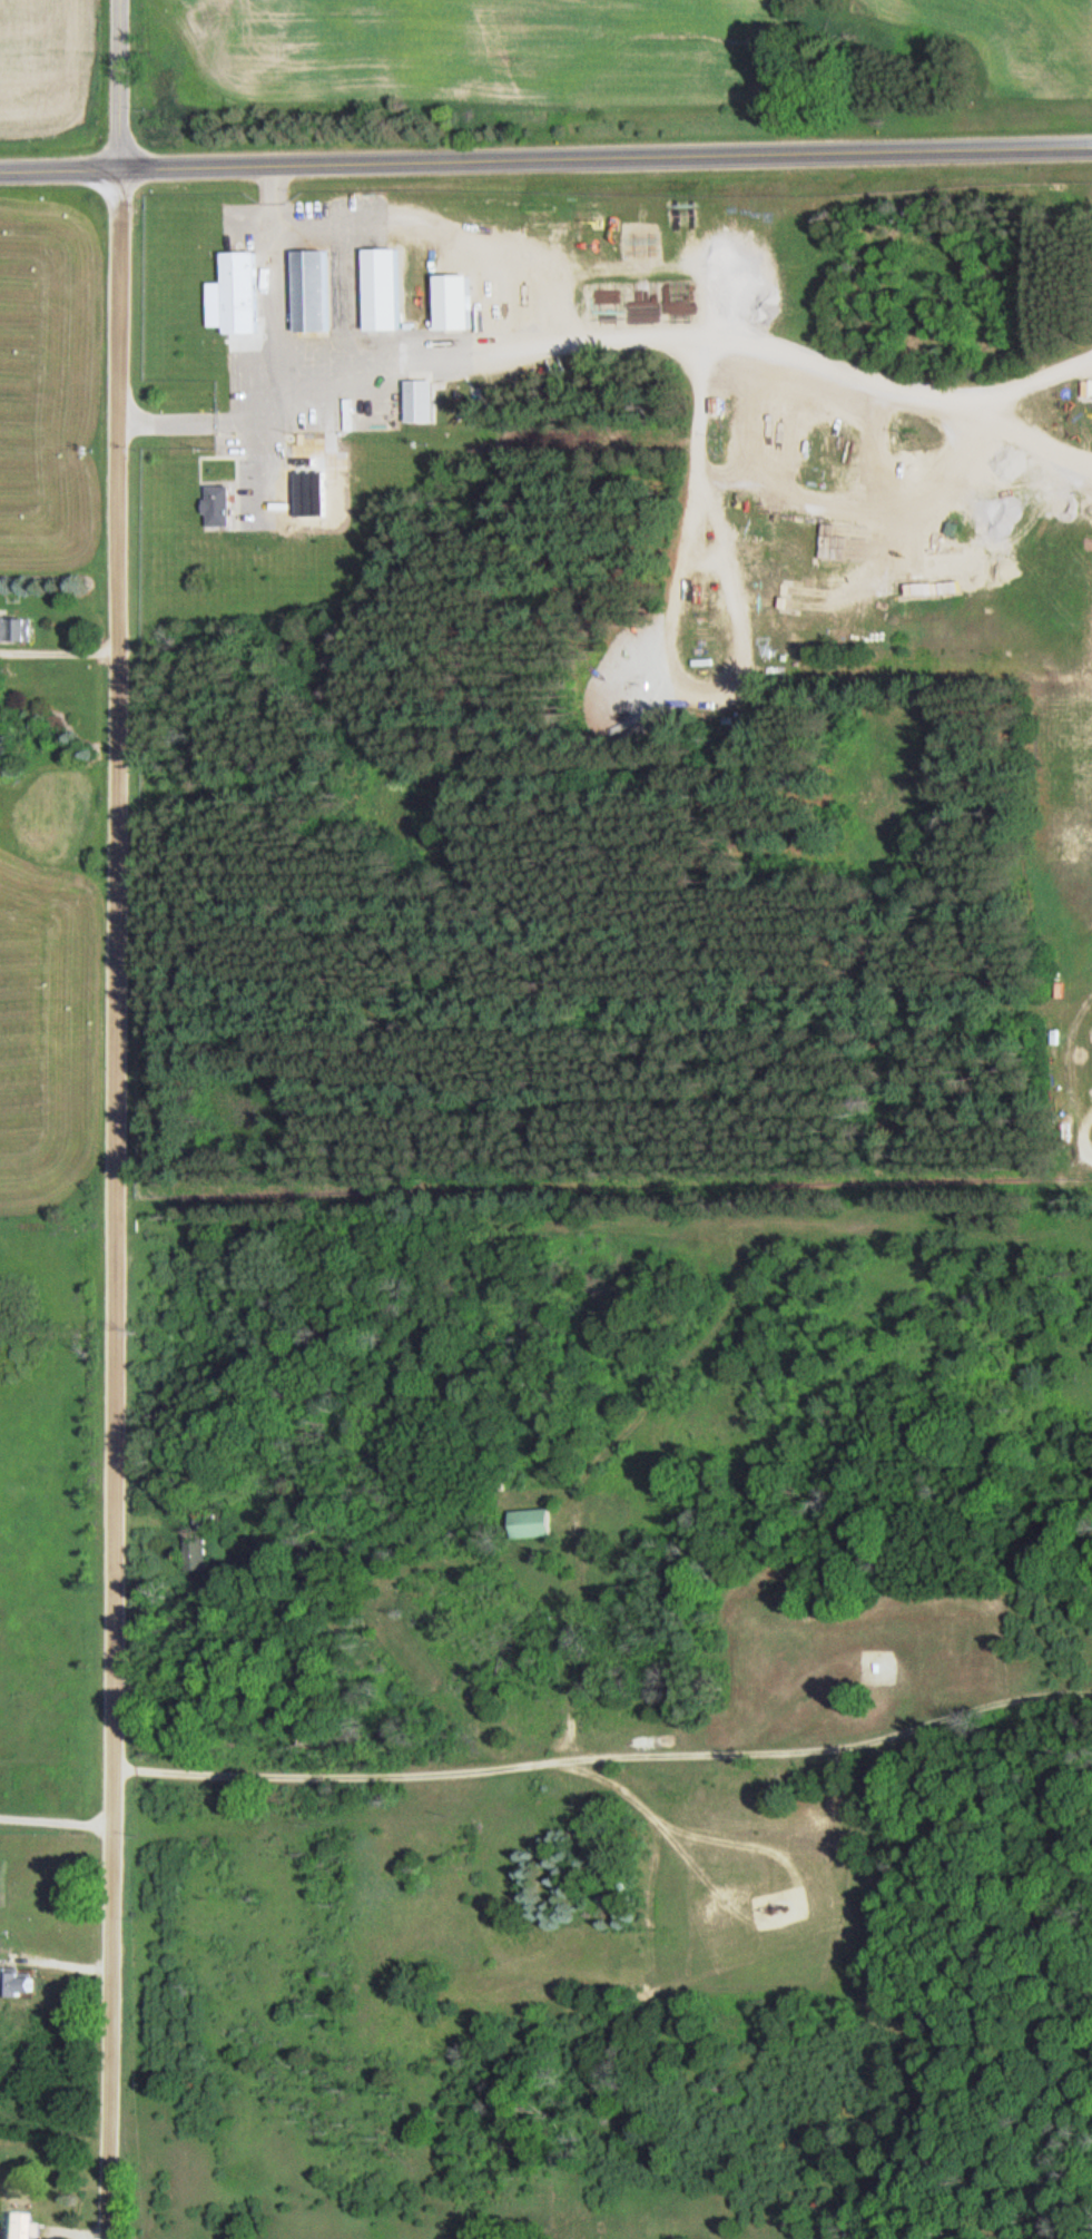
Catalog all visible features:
road: (119, 84)
road: (604, 155)
road: (59, 169)
building: (385, 288)
building: (316, 289)
building: (245, 292)
building: (460, 302)
road: (504, 350)
road: (1021, 374)
building: (423, 401)
road: (688, 403)
building: (716, 405)
road: (1015, 436)
building: (225, 505)
building: (18, 628)
road: (108, 1204)
building: (535, 1522)
building: (200, 1553)
road: (57, 1819)
building: (21, 1981)
building: (12, 2225)

